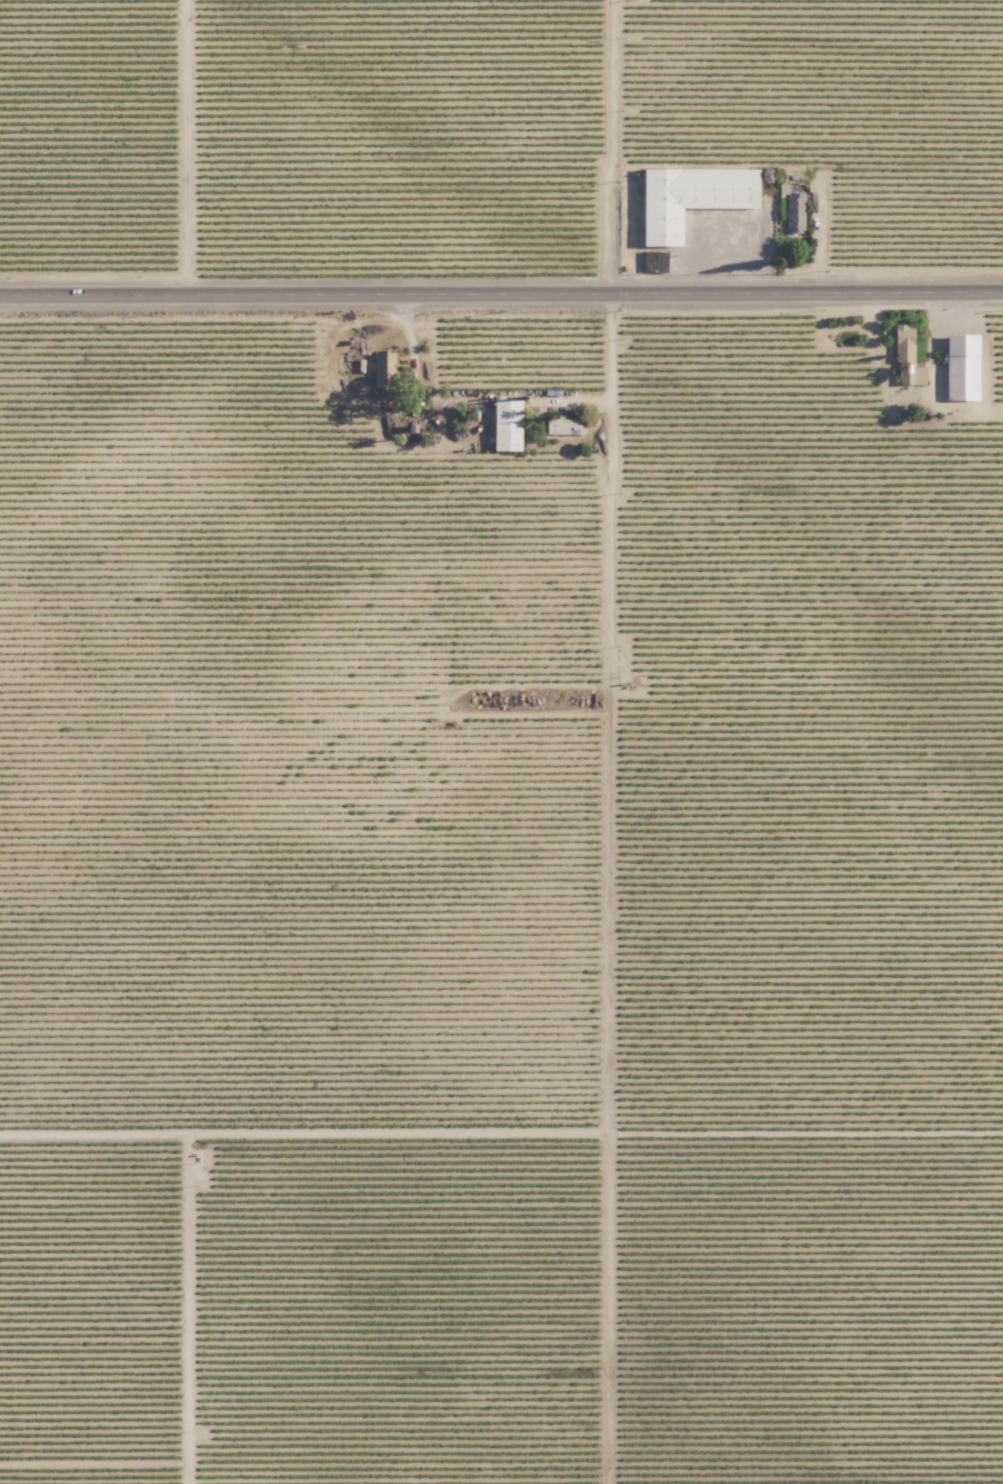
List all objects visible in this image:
road: (187, 152)
road: (612, 152)
building: (692, 198)
building: (795, 213)
road: (501, 305)
building: (905, 334)
building: (387, 362)
building: (965, 367)
road: (307, 1145)

